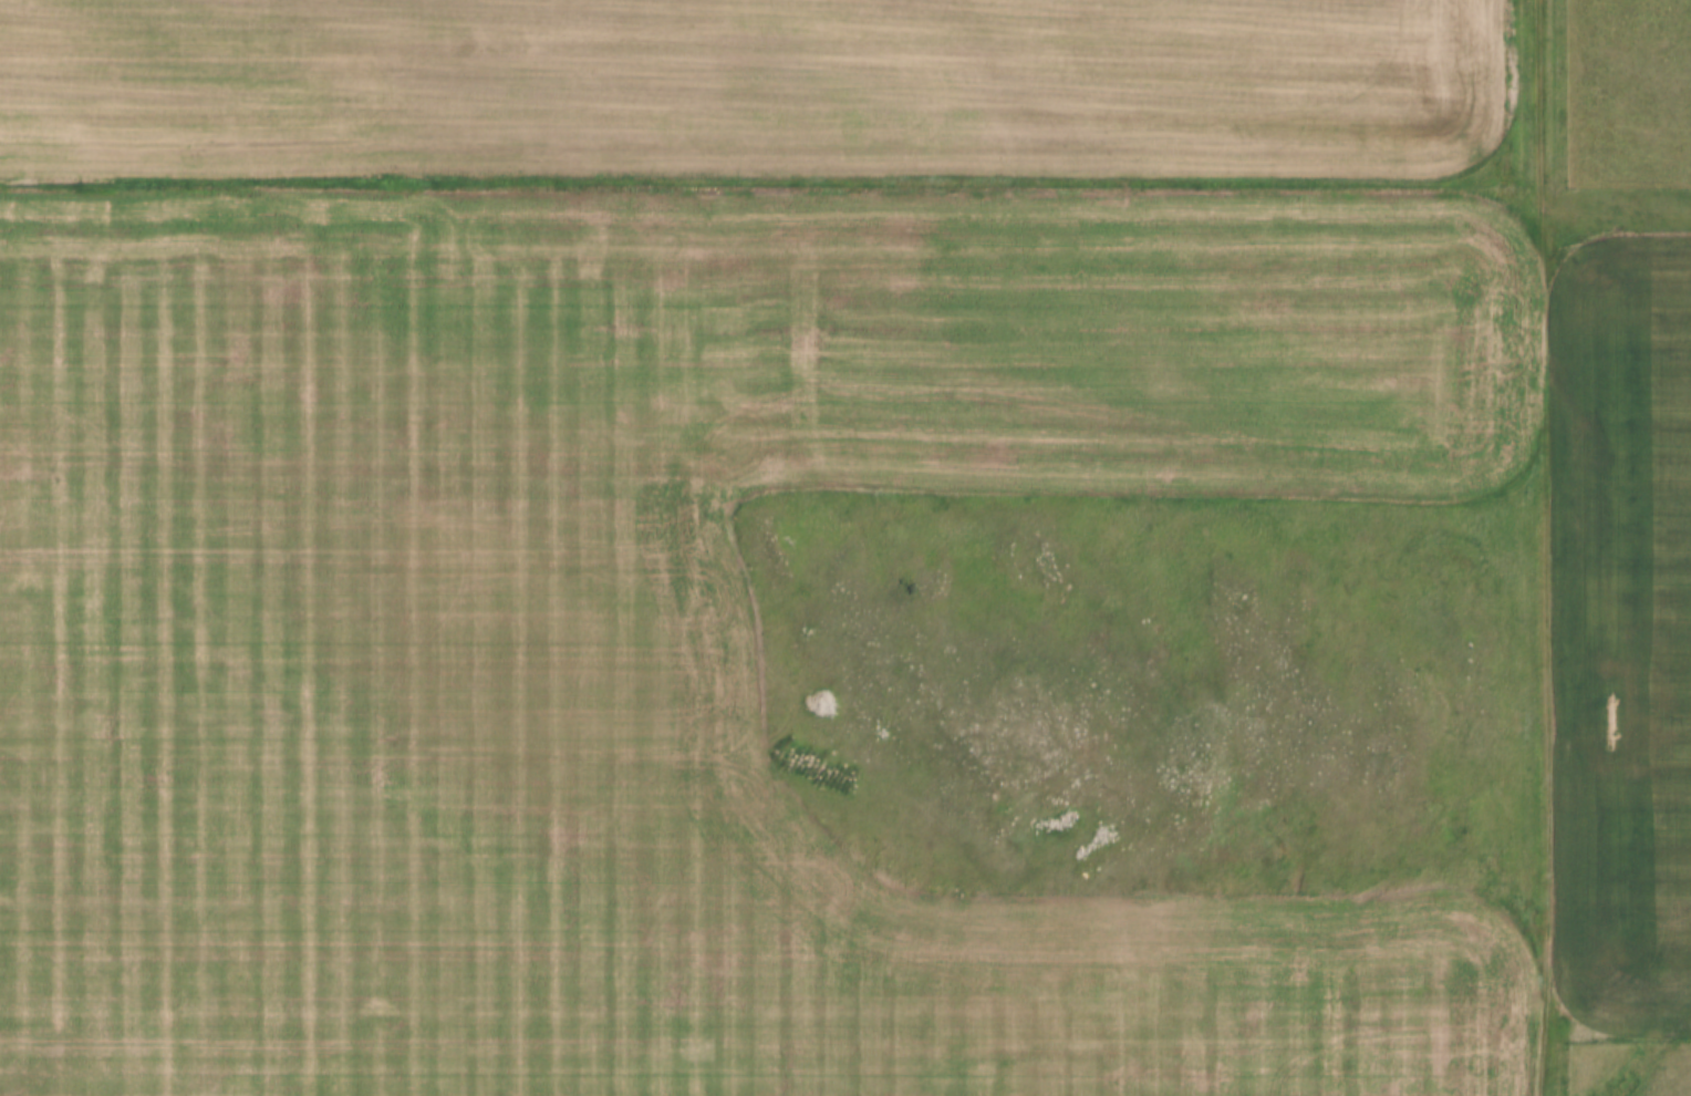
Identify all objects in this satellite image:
road: (1536, 105)
road: (1615, 213)
road: (1552, 653)

